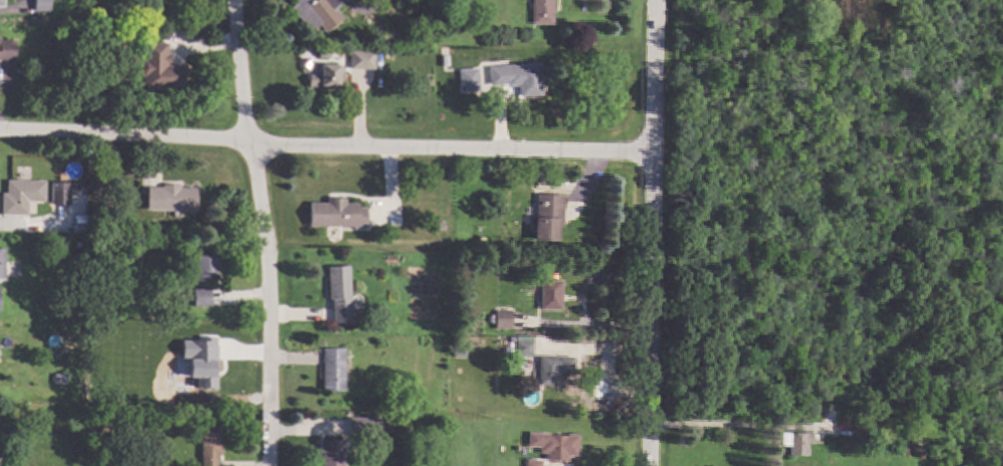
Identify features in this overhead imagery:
building: (2, 2)
building: (44, 5)
building: (89, 9)
building: (318, 12)
building: (545, 12)
building: (8, 49)
building: (363, 59)
building: (446, 60)
building: (162, 68)
building: (326, 76)
building: (519, 78)
building: (470, 79)
road: (323, 143)
building: (519, 181)
building: (62, 193)
building: (23, 195)
building: (172, 197)
building: (338, 213)
building: (551, 216)
building: (83, 227)
road: (7, 228)
road: (259, 232)
road: (647, 232)
building: (82, 242)
building: (3, 263)
building: (209, 267)
building: (341, 292)
building: (554, 295)
building: (0, 296)
building: (204, 297)
building: (505, 319)
building: (527, 344)
building: (200, 360)
building: (335, 369)
building: (552, 371)
building: (103, 420)
building: (390, 424)
building: (366, 426)
road: (726, 426)
building: (859, 427)
building: (107, 429)
building: (801, 443)
building: (213, 445)
building: (556, 445)
building: (333, 452)
building: (831, 460)
building: (514, 463)
building: (535, 463)

